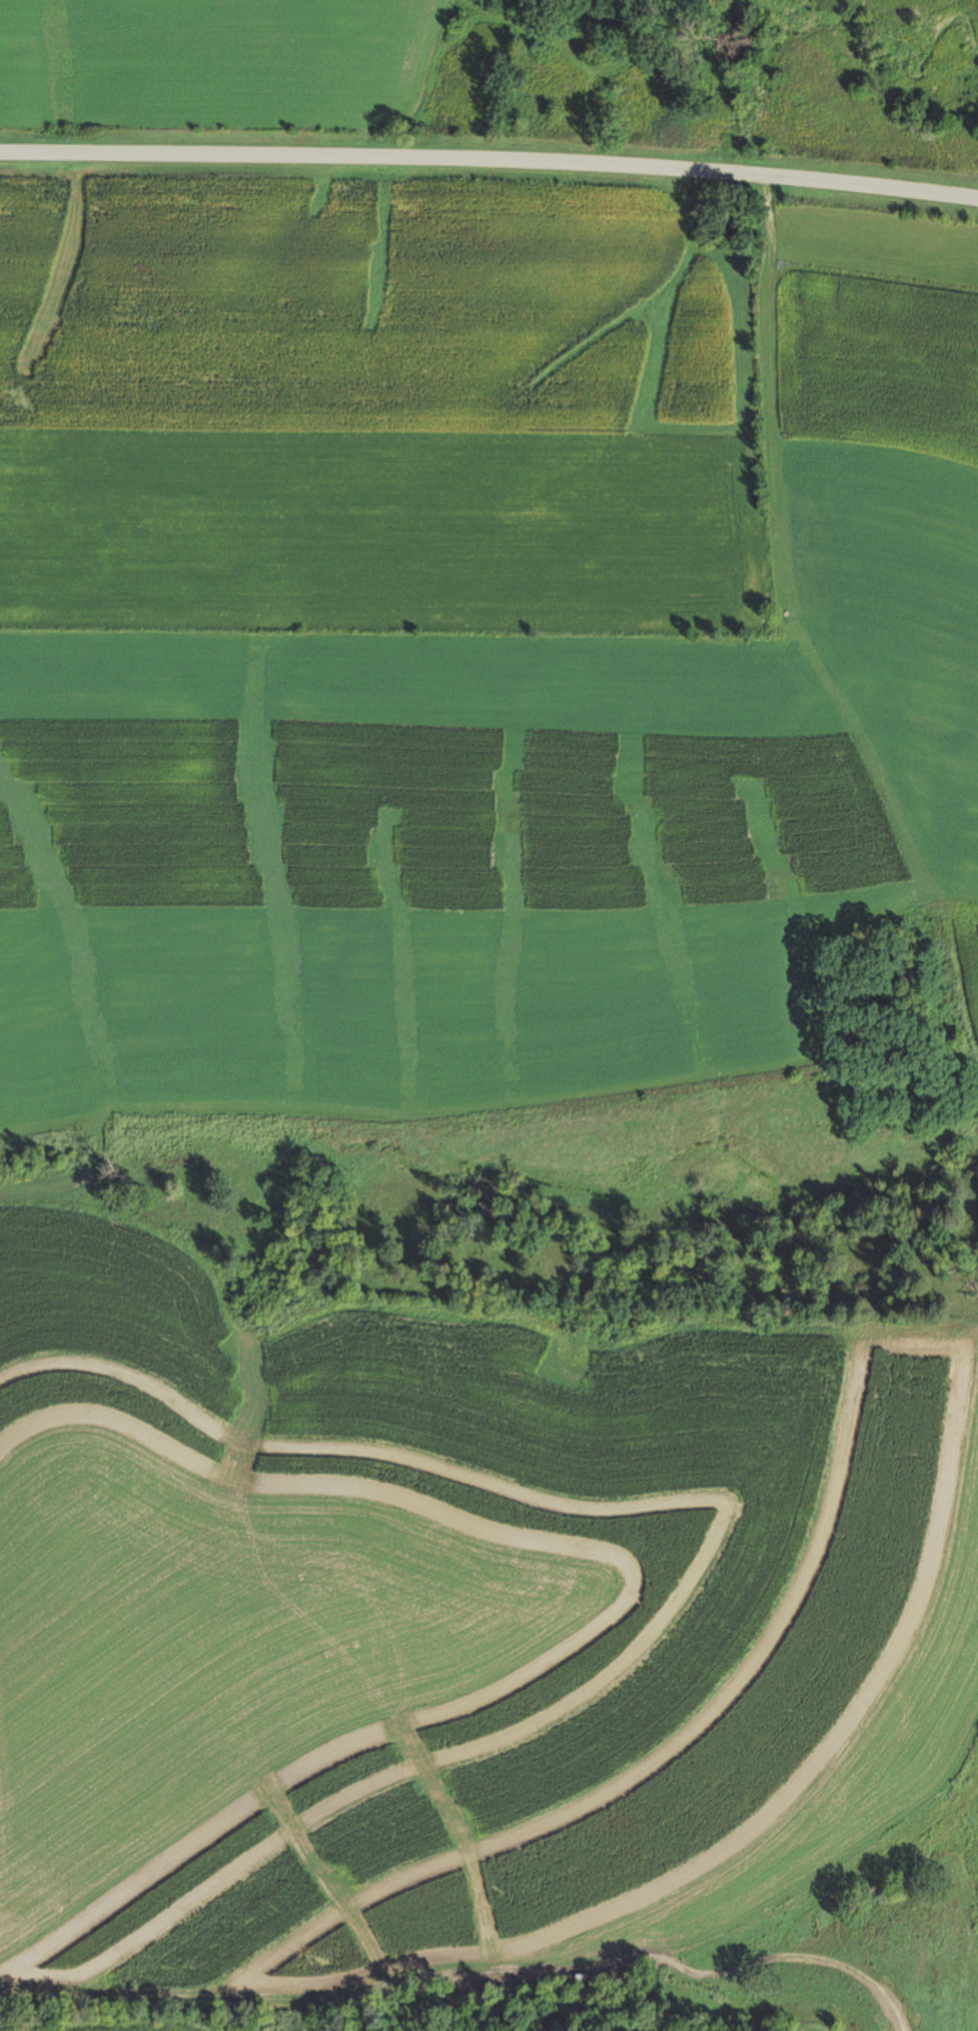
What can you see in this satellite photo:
road: (490, 166)

